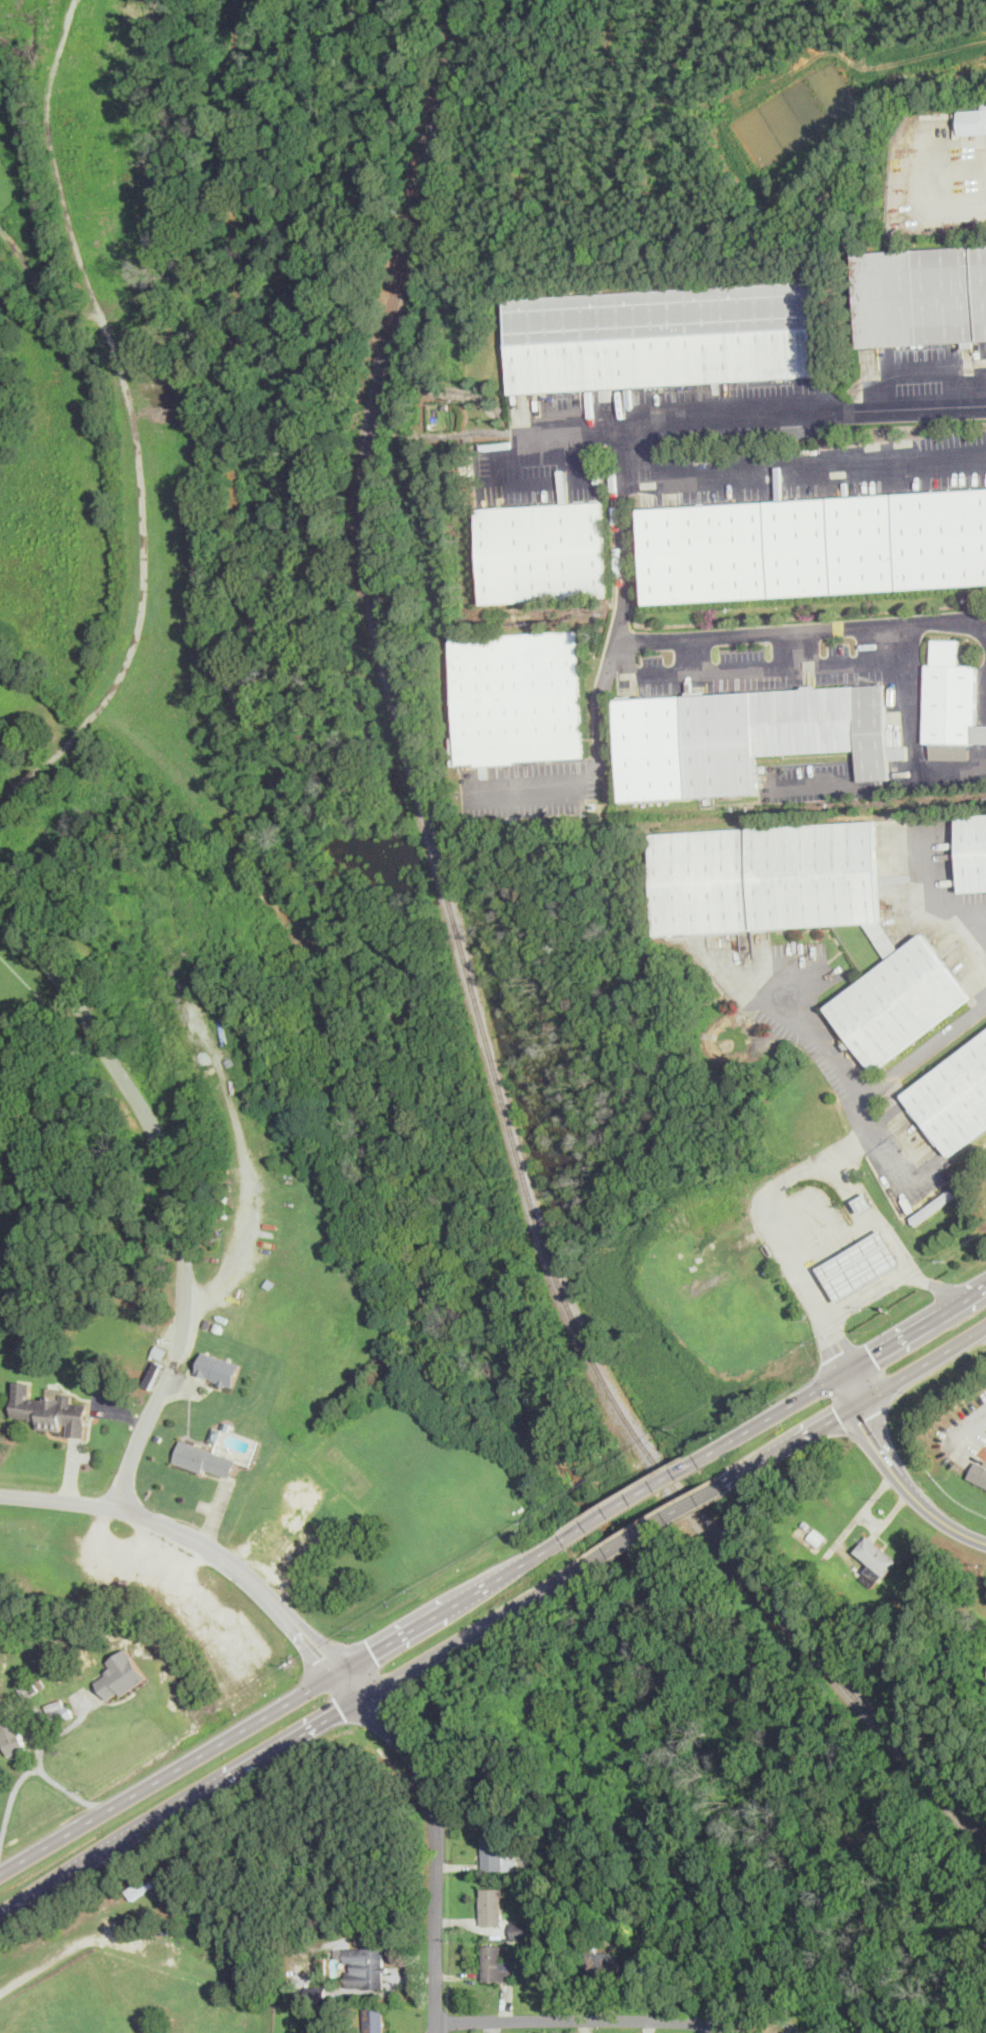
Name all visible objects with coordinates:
building: (972, 118)
road: (937, 204)
building: (922, 293)
building: (664, 335)
road: (921, 373)
road: (669, 416)
road: (526, 435)
road: (804, 463)
building: (815, 544)
building: (543, 551)
road: (800, 629)
road: (890, 643)
road: (800, 646)
road: (693, 654)
road: (881, 662)
building: (517, 696)
building: (950, 702)
road: (599, 724)
building: (744, 736)
road: (951, 771)
road: (539, 784)
building: (972, 850)
road: (935, 891)
building: (806, 914)
railway: (473, 990)
road: (49, 1055)
road: (879, 1085)
building: (952, 1096)
road: (775, 1189)
road: (172, 1191)
building: (864, 1202)
building: (933, 1206)
road: (871, 1224)
road: (834, 1246)
building: (861, 1265)
road: (871, 1292)
traffic signals: (839, 1353)
traffic signals: (873, 1355)
building: (218, 1367)
road: (837, 1376)
road: (852, 1386)
road: (854, 1404)
building: (50, 1409)
traffic signals: (838, 1414)
traffic signals: (864, 1418)
road: (882, 1448)
building: (204, 1459)
building: (979, 1473)
road: (628, 1498)
road: (865, 1519)
road: (945, 1522)
road: (653, 1523)
road: (192, 1537)
building: (876, 1557)
traffic signals: (372, 1651)
traffic signals: (325, 1655)
building: (121, 1675)
building: (28, 1686)
road: (284, 1702)
building: (58, 1709)
traffic signals: (341, 1710)
traffic signals: (374, 1710)
building: (12, 1736)
road: (292, 1739)
road: (29, 1769)
road: (67, 1788)
road: (438, 1835)
building: (495, 1853)
building: (491, 1905)
building: (522, 1929)
road: (54, 1957)
building: (494, 1963)
building: (608, 1963)
building: (364, 1965)
road: (578, 2018)
building: (374, 2019)

